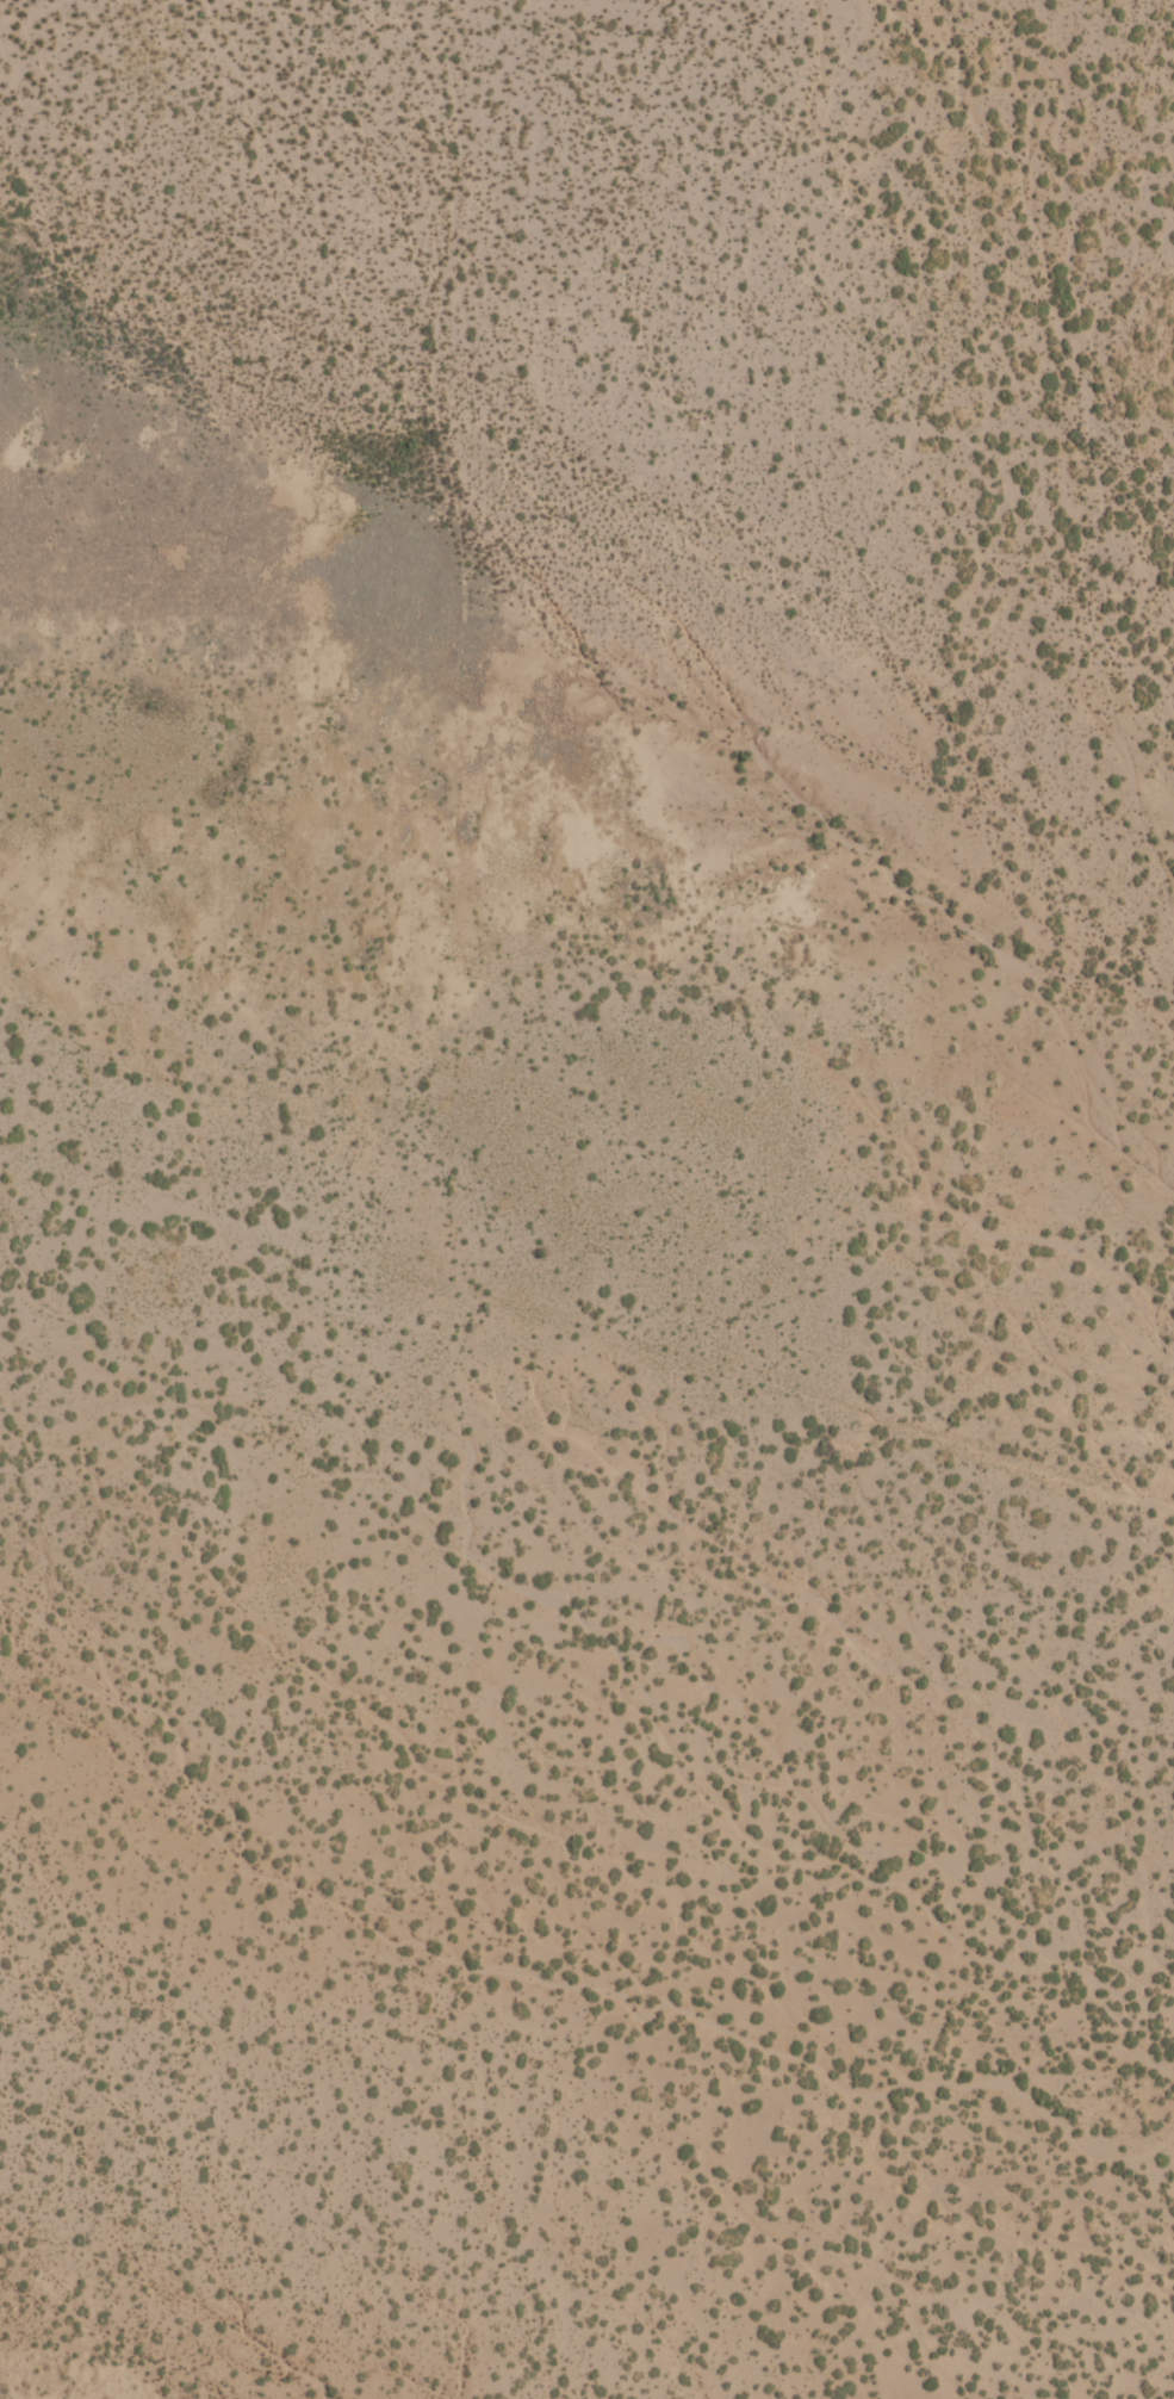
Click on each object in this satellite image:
road: (586, 1331)

